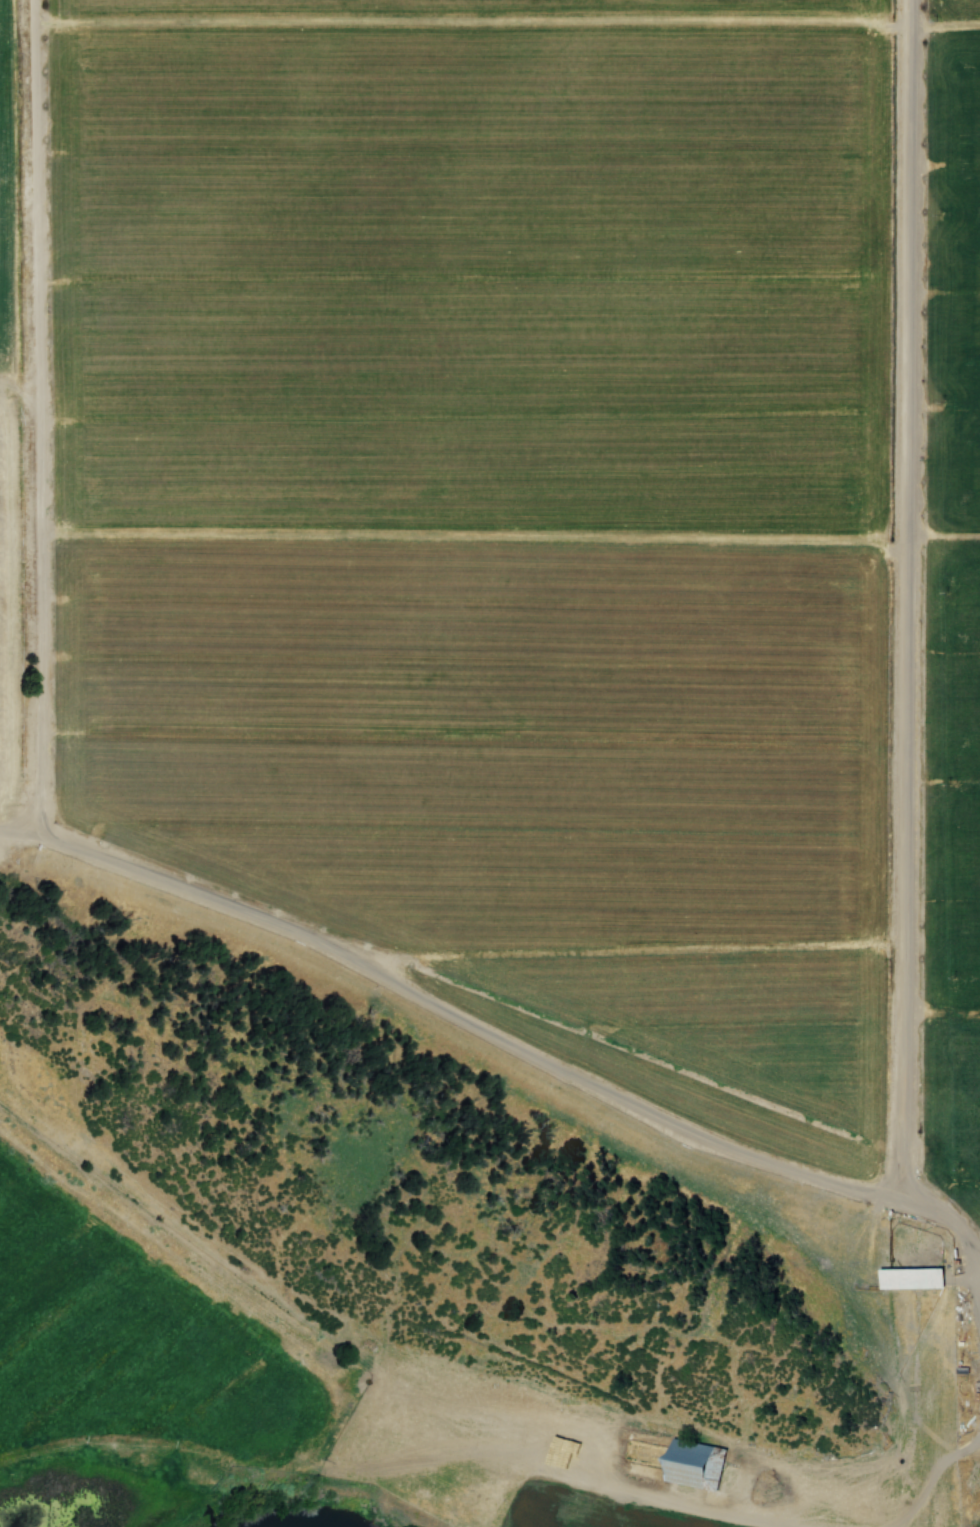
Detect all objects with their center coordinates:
road: (931, 31)
building: (691, 1464)

